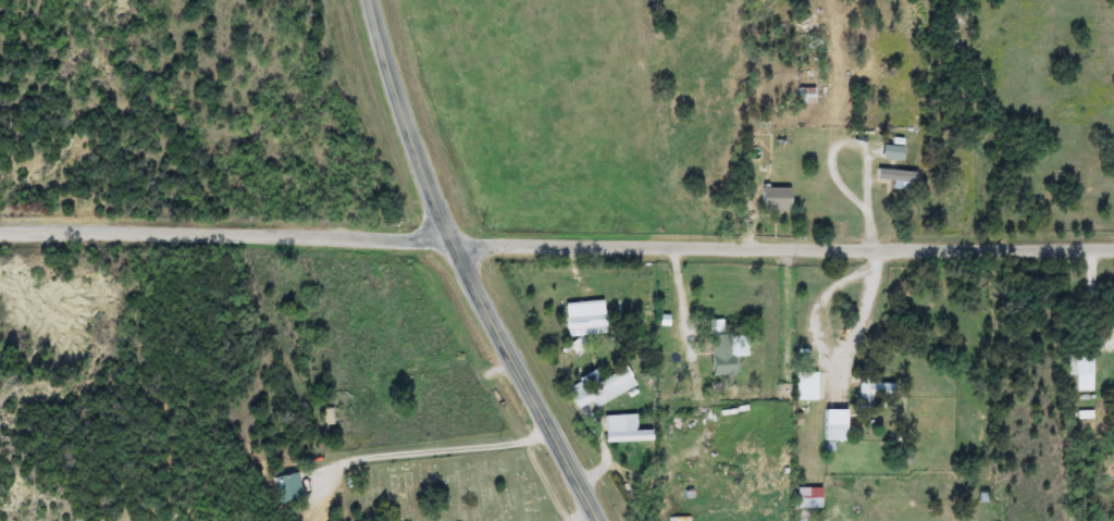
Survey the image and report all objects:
building: (892, 153)
building: (895, 176)
building: (776, 200)
road: (556, 247)
road: (466, 268)
road: (870, 272)
road: (676, 294)
building: (585, 319)
building: (1111, 322)
building: (727, 352)
building: (1084, 373)
building: (806, 386)
building: (597, 387)
building: (864, 389)
building: (837, 425)
building: (623, 432)
park: (446, 481)
building: (287, 488)
building: (806, 496)

